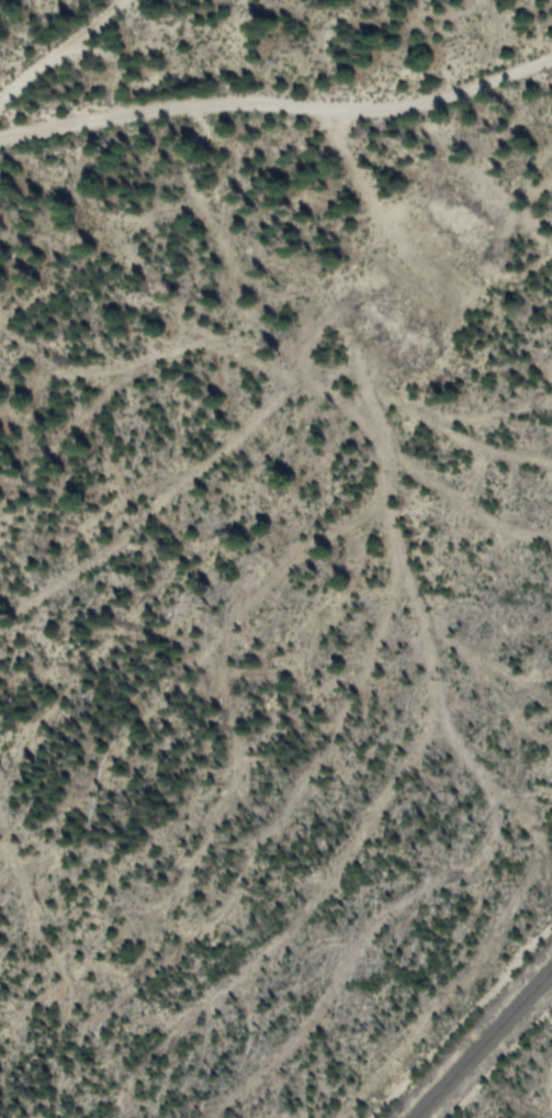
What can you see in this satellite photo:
road: (65, 58)
road: (279, 114)
road: (462, 1020)
railway: (484, 1044)

